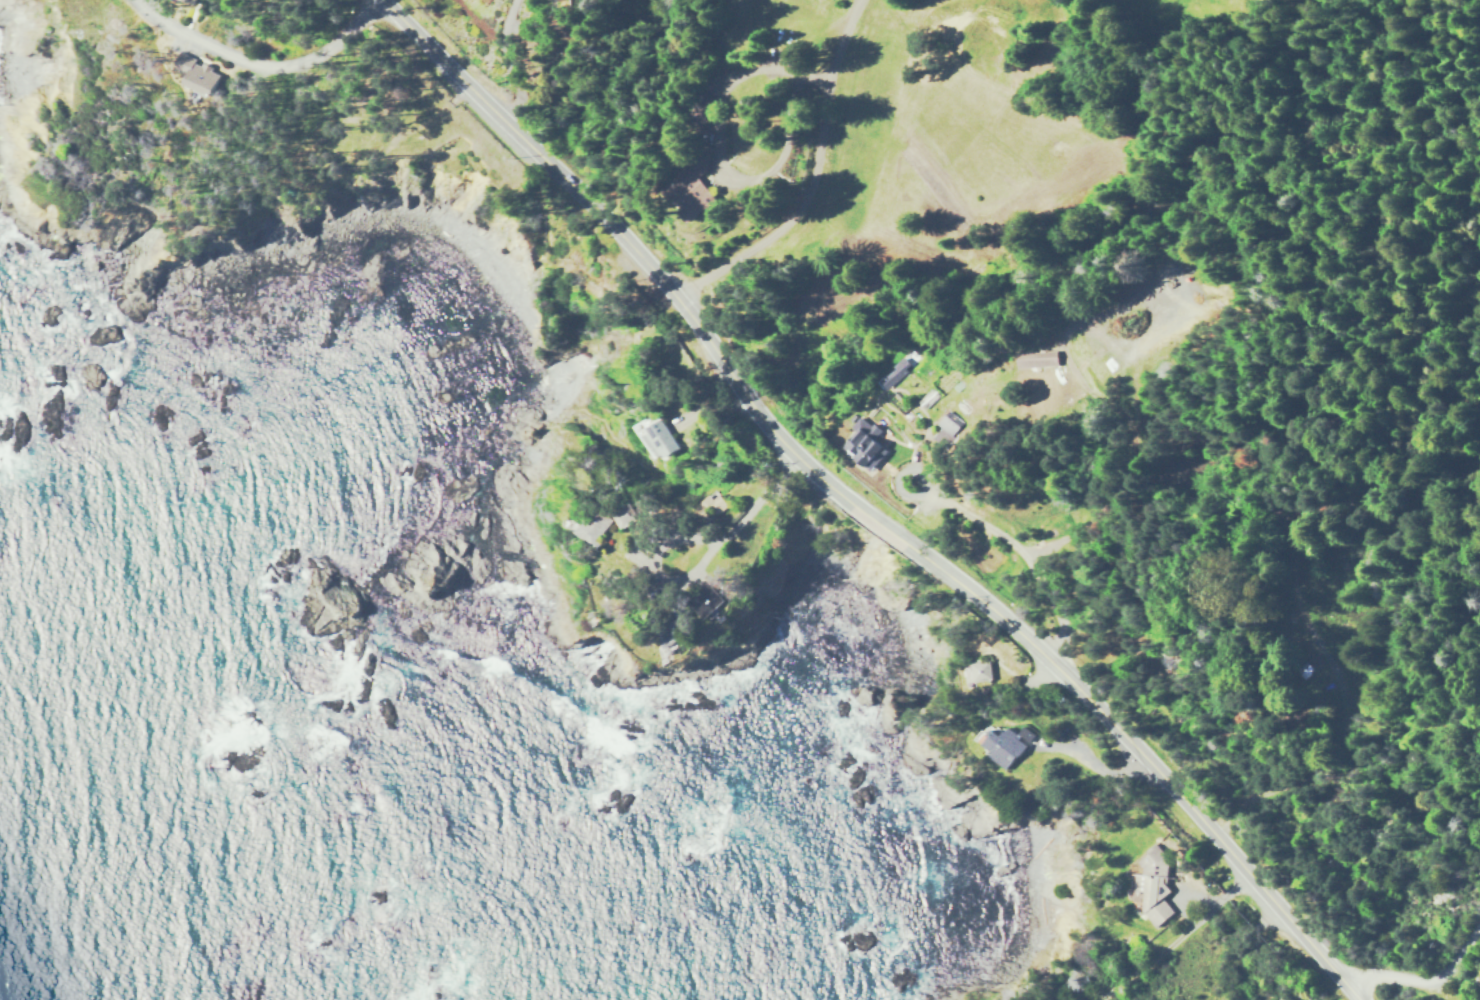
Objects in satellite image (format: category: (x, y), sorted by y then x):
building: (198, 74)
building: (689, 195)
building: (1037, 359)
building: (894, 372)
building: (642, 428)
building: (946, 428)
building: (661, 440)
building: (865, 443)
road: (864, 511)
building: (625, 516)
building: (596, 525)
building: (977, 672)
building: (1007, 745)
building: (1154, 885)
road: (1426, 982)

